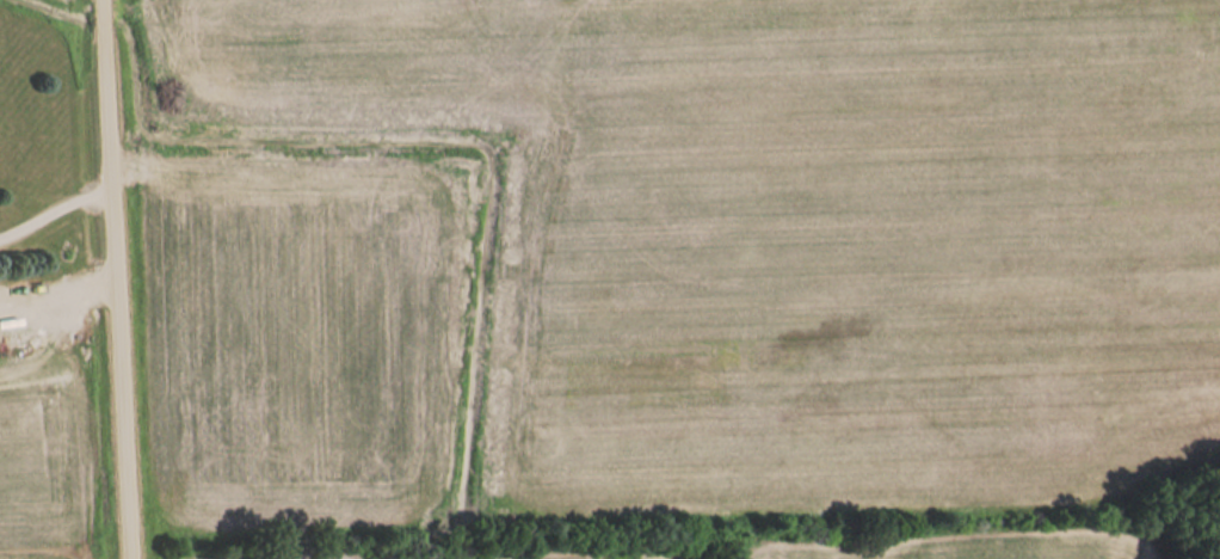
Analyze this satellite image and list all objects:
road: (118, 279)

